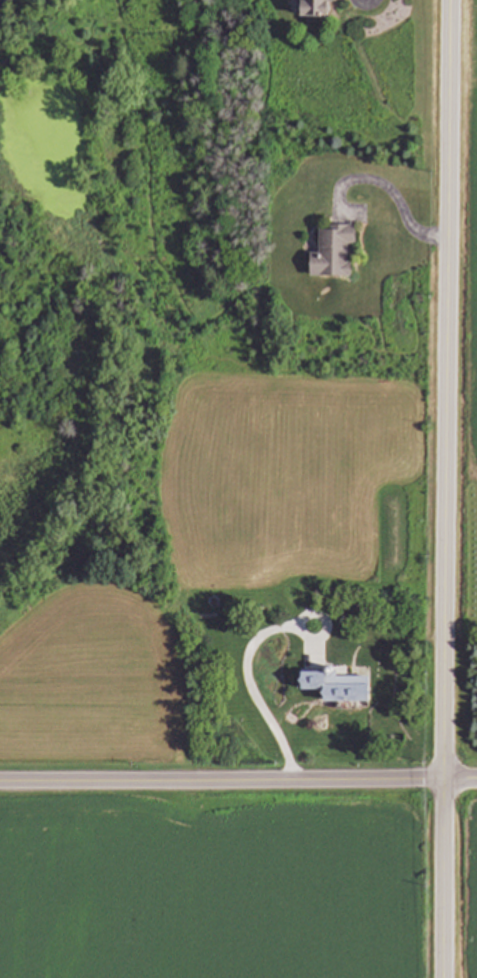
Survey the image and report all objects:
building: (318, 8)
road: (392, 194)
building: (333, 253)
crop: (465, 329)
road: (447, 488)
road: (250, 684)
building: (339, 689)
road: (461, 780)
road: (222, 781)
crop: (468, 881)
crop: (216, 887)

